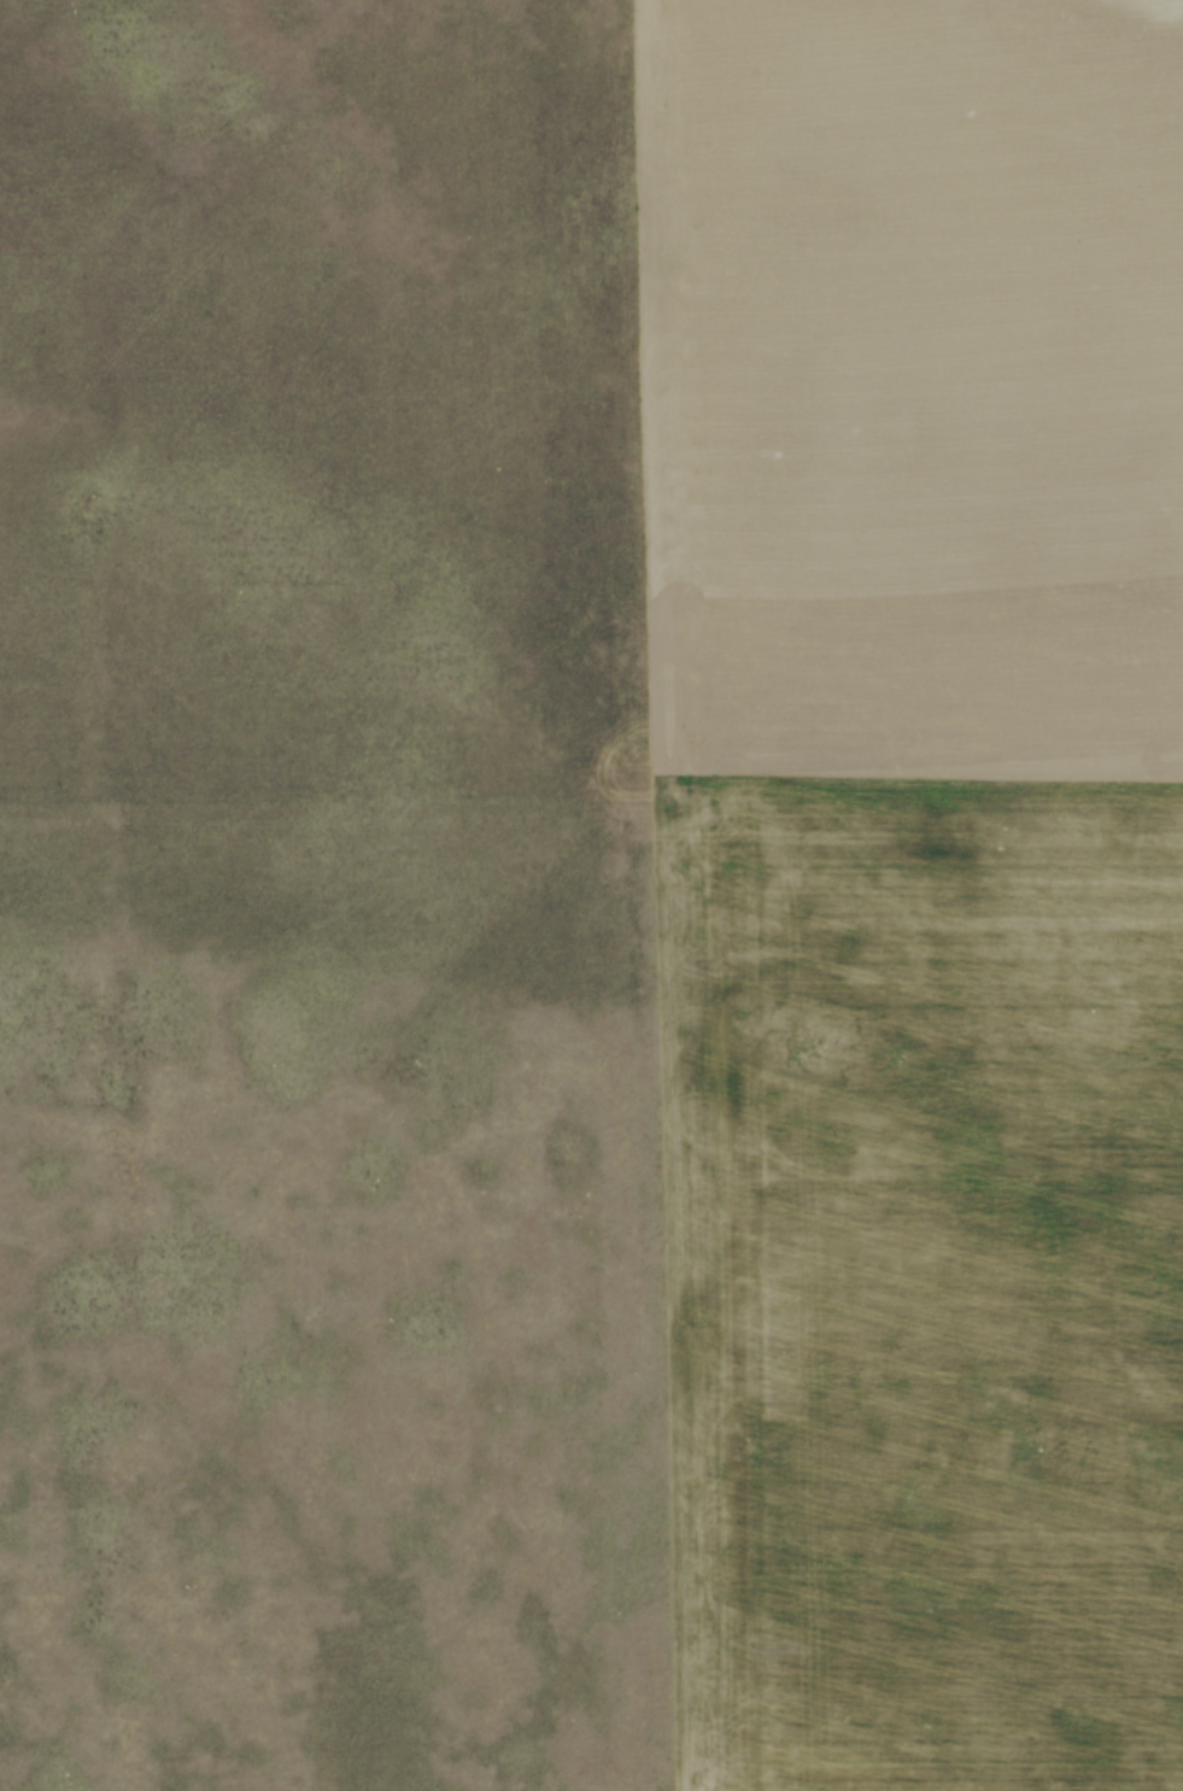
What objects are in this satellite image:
crop: (918, 884)

